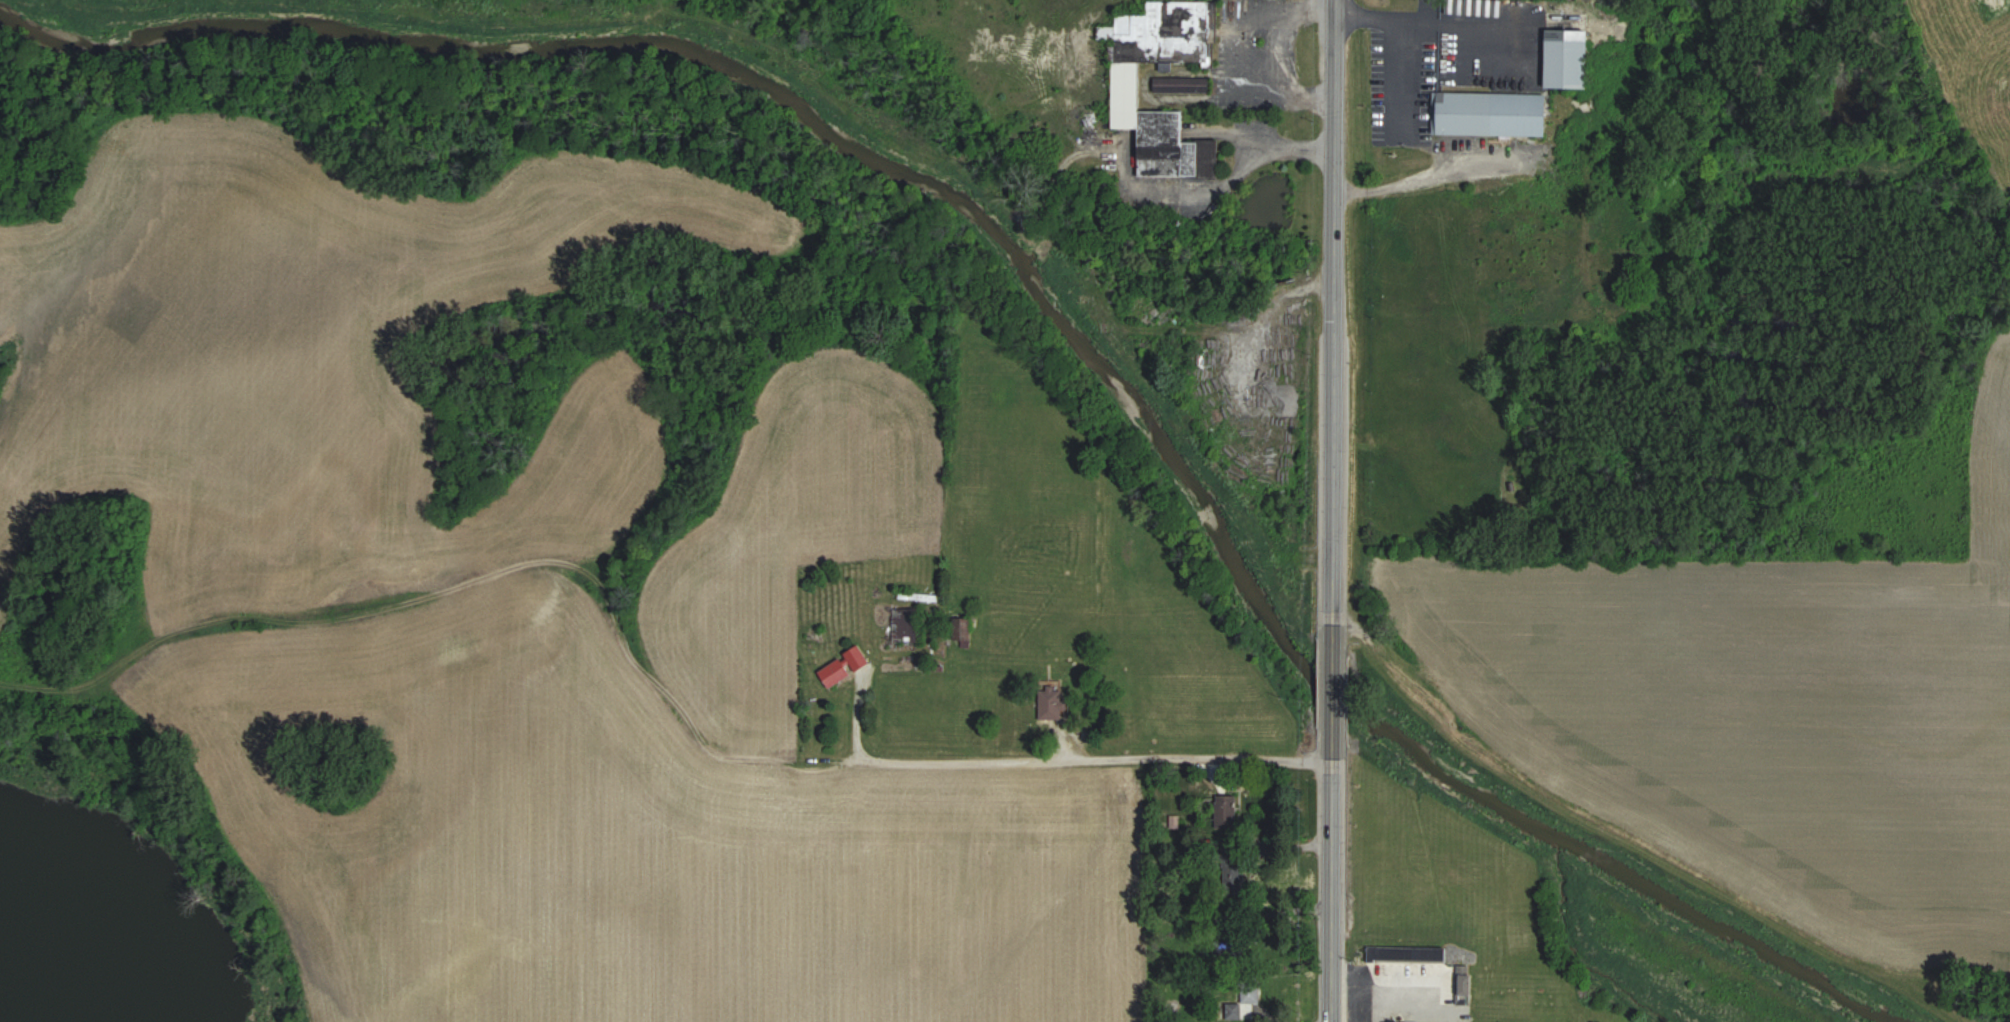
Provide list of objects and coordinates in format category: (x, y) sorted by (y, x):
road: (1430, 22)
building: (1569, 63)
building: (1183, 84)
building: (1128, 86)
building: (1479, 98)
road: (1430, 144)
road: (1328, 510)
building: (907, 626)
building: (836, 673)
building: (1053, 705)
road: (1072, 740)
road: (1045, 756)
building: (1228, 811)
building: (1395, 954)
road: (1384, 976)
building: (1466, 984)
building: (1241, 1002)

